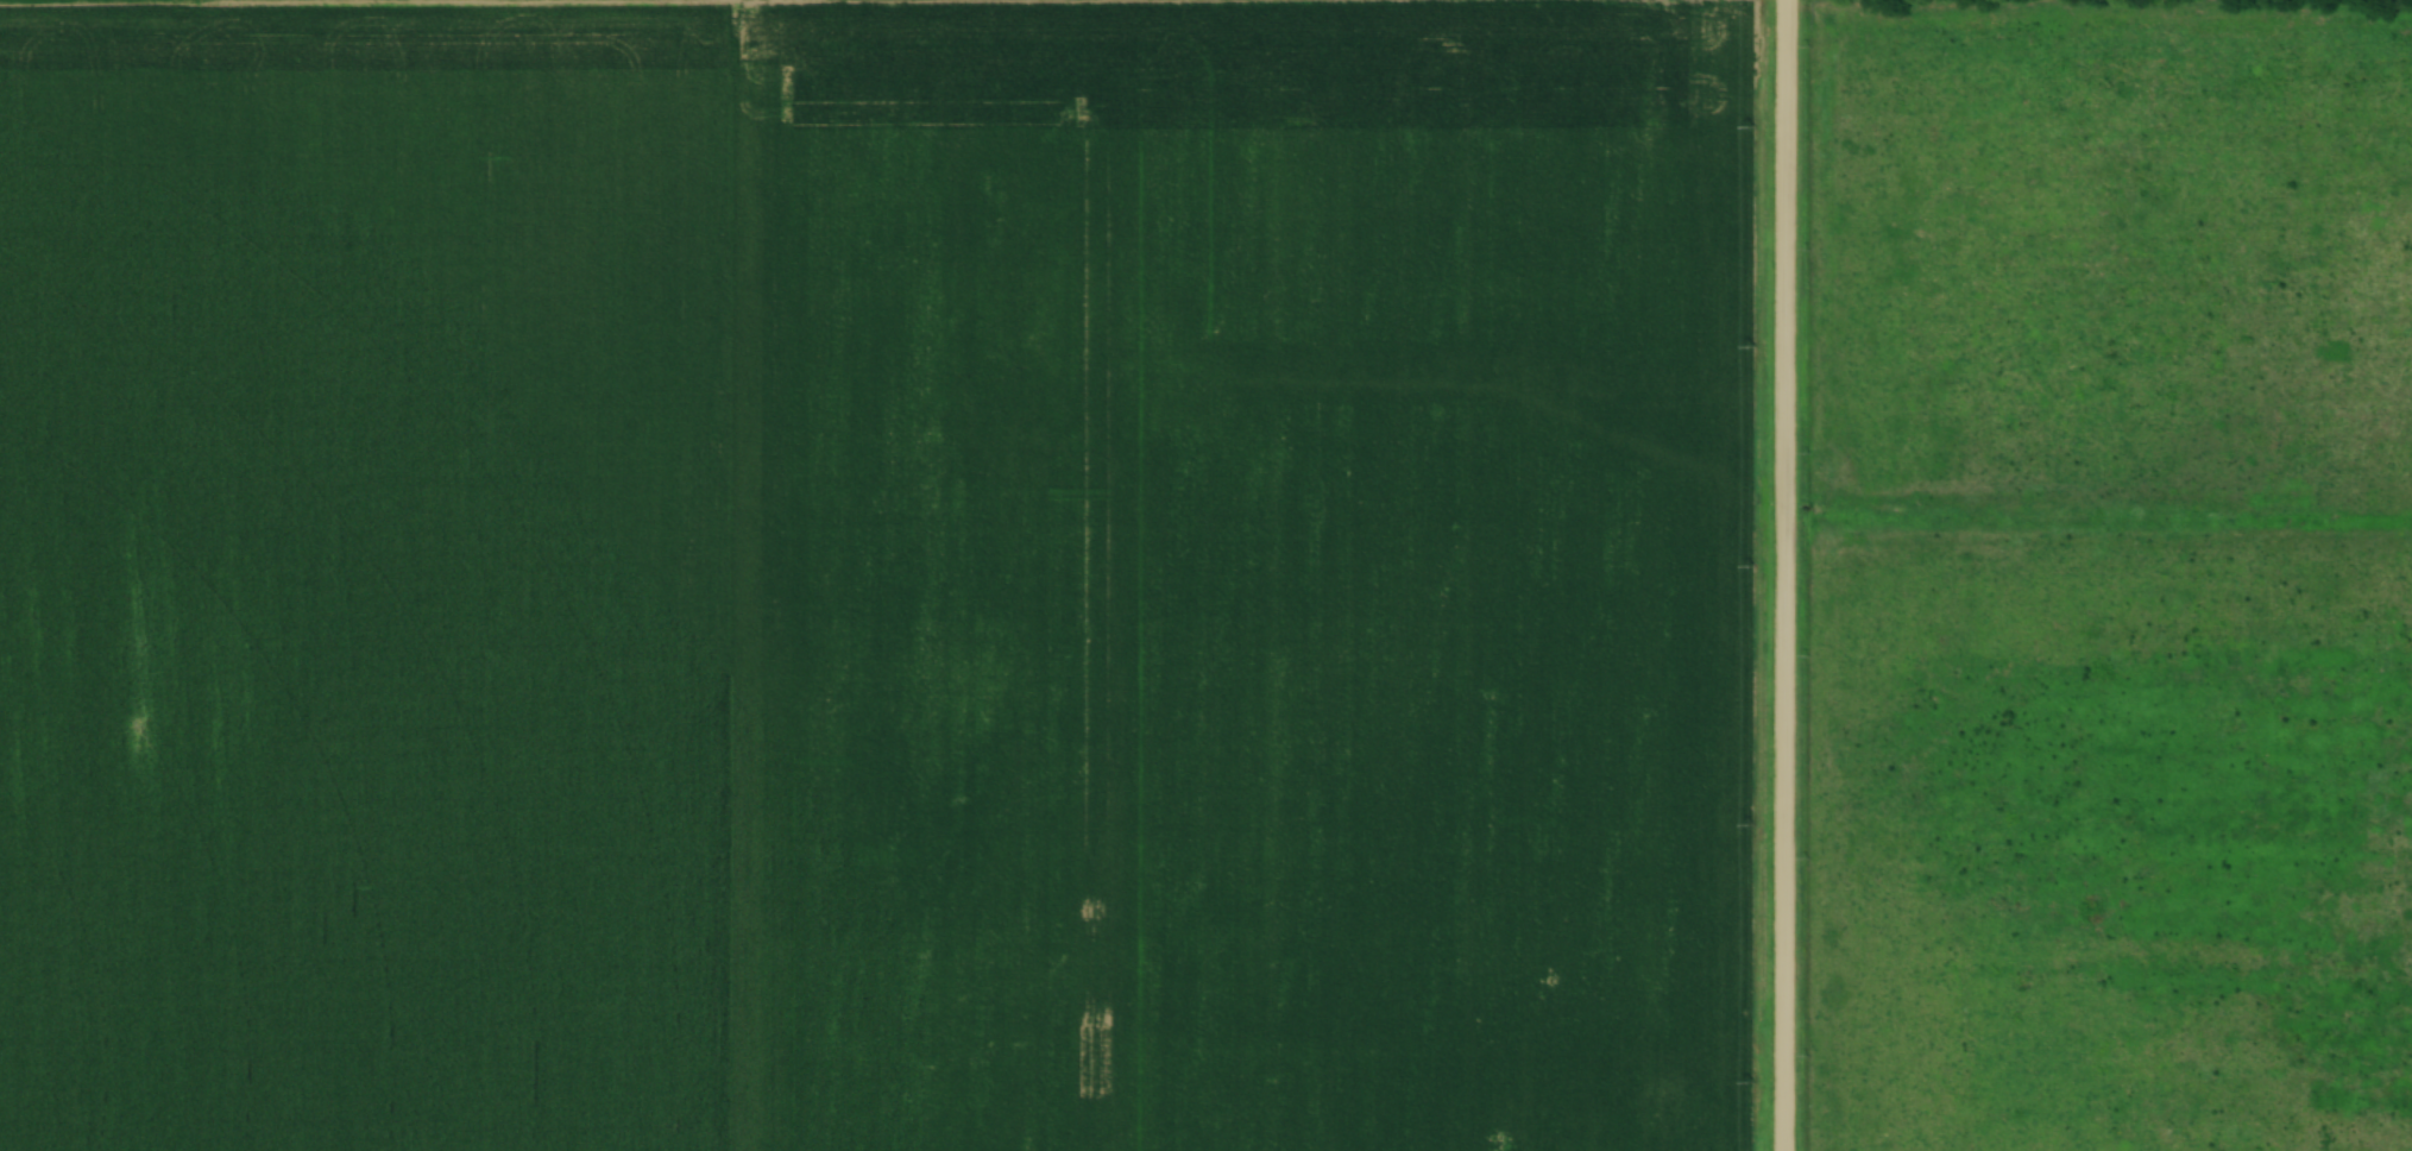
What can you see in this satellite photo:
road: (1781, 575)

